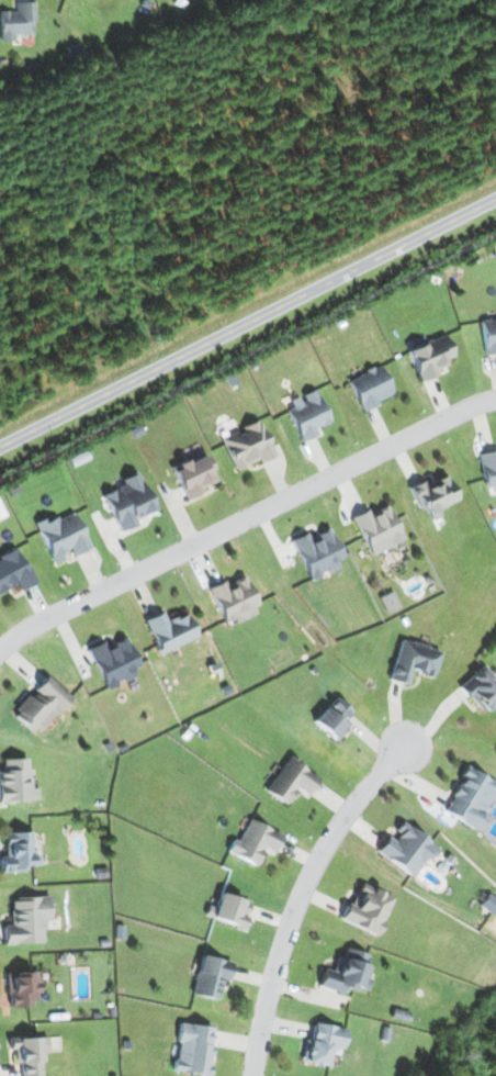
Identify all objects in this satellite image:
building: (16, 20)
road: (248, 320)
building: (488, 335)
building: (429, 357)
building: (370, 386)
building: (307, 415)
building: (247, 445)
building: (488, 468)
building: (193, 473)
building: (433, 494)
building: (127, 502)
road: (245, 516)
building: (376, 529)
building: (61, 536)
building: (316, 552)
building: (13, 571)
building: (233, 599)
building: (388, 602)
building: (169, 630)
building: (113, 661)
building: (413, 661)
building: (480, 688)
building: (40, 705)
building: (331, 718)
building: (15, 781)
building: (290, 781)
building: (470, 797)
building: (252, 842)
building: (405, 849)
building: (16, 851)
road: (303, 897)
building: (488, 904)
building: (367, 908)
building: (230, 910)
building: (25, 919)
building: (346, 972)
building: (210, 976)
building: (21, 988)
building: (323, 1043)
building: (192, 1049)
building: (26, 1053)

